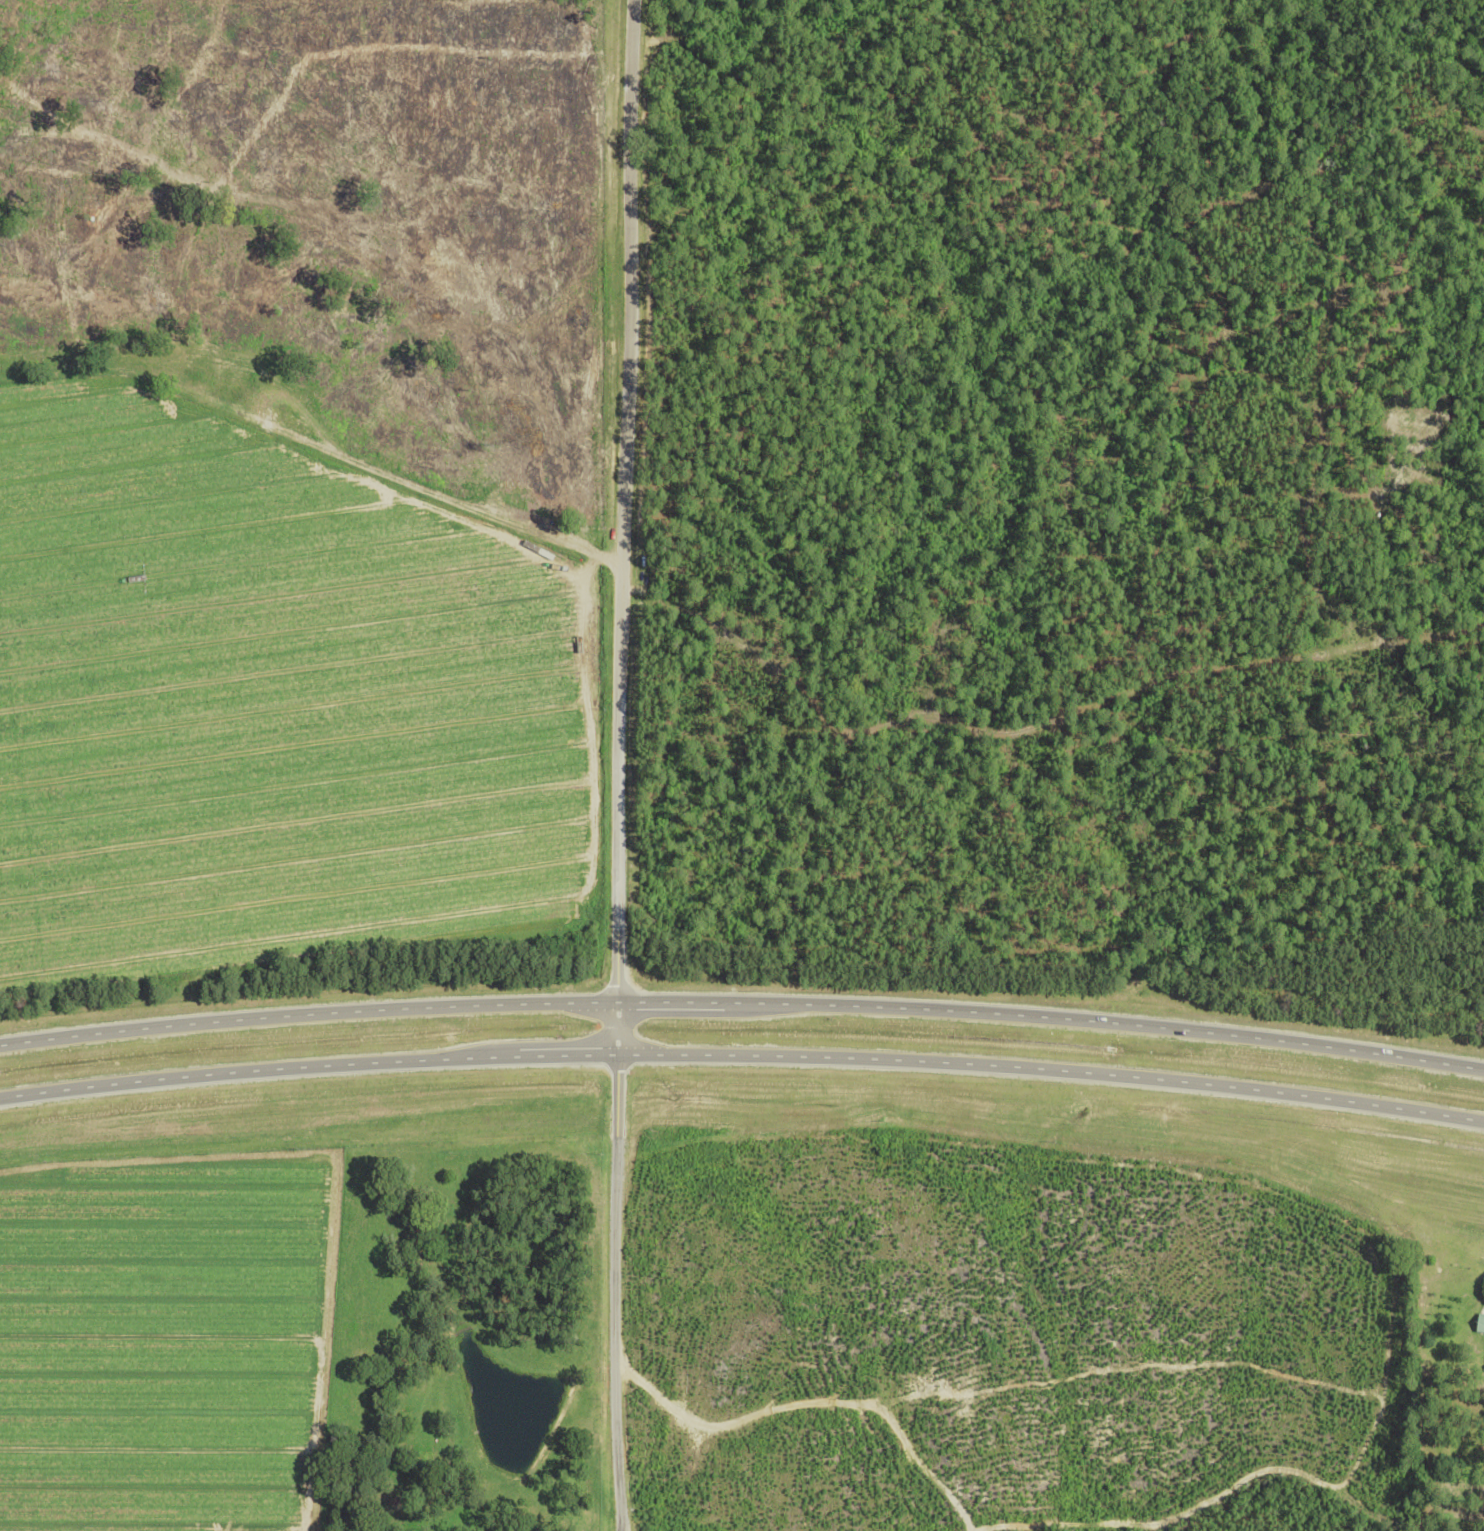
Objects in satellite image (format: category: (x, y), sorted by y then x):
road: (628, 766)
road: (742, 1001)
road: (742, 1055)
building: (1480, 1324)

